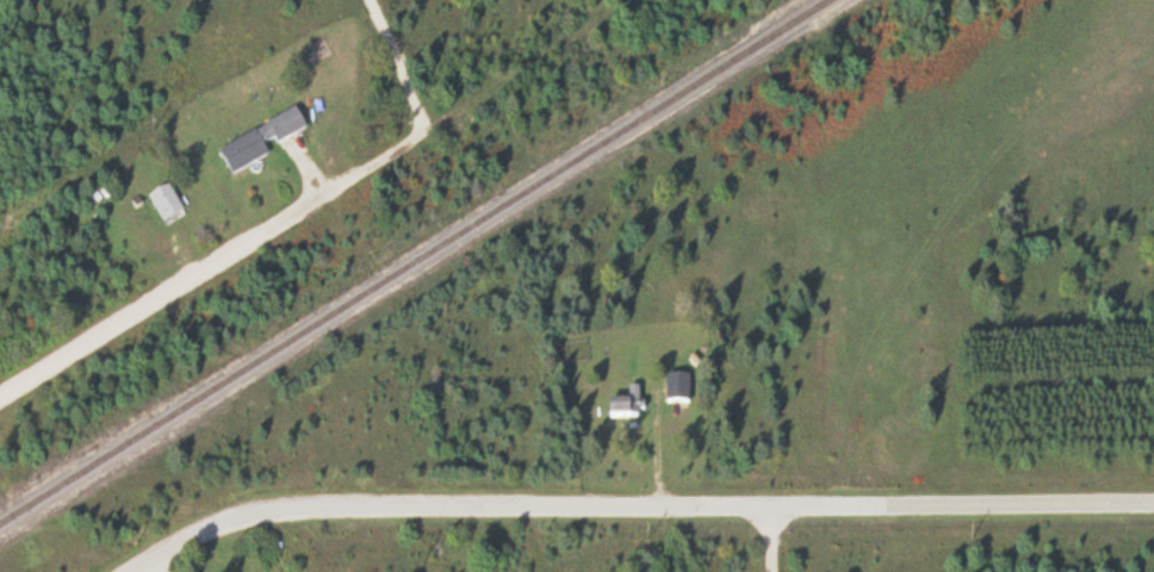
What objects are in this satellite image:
building: (260, 144)
building: (167, 206)
railway: (414, 262)
road: (178, 284)
building: (576, 353)
building: (628, 406)
road: (635, 506)
road: (767, 539)

